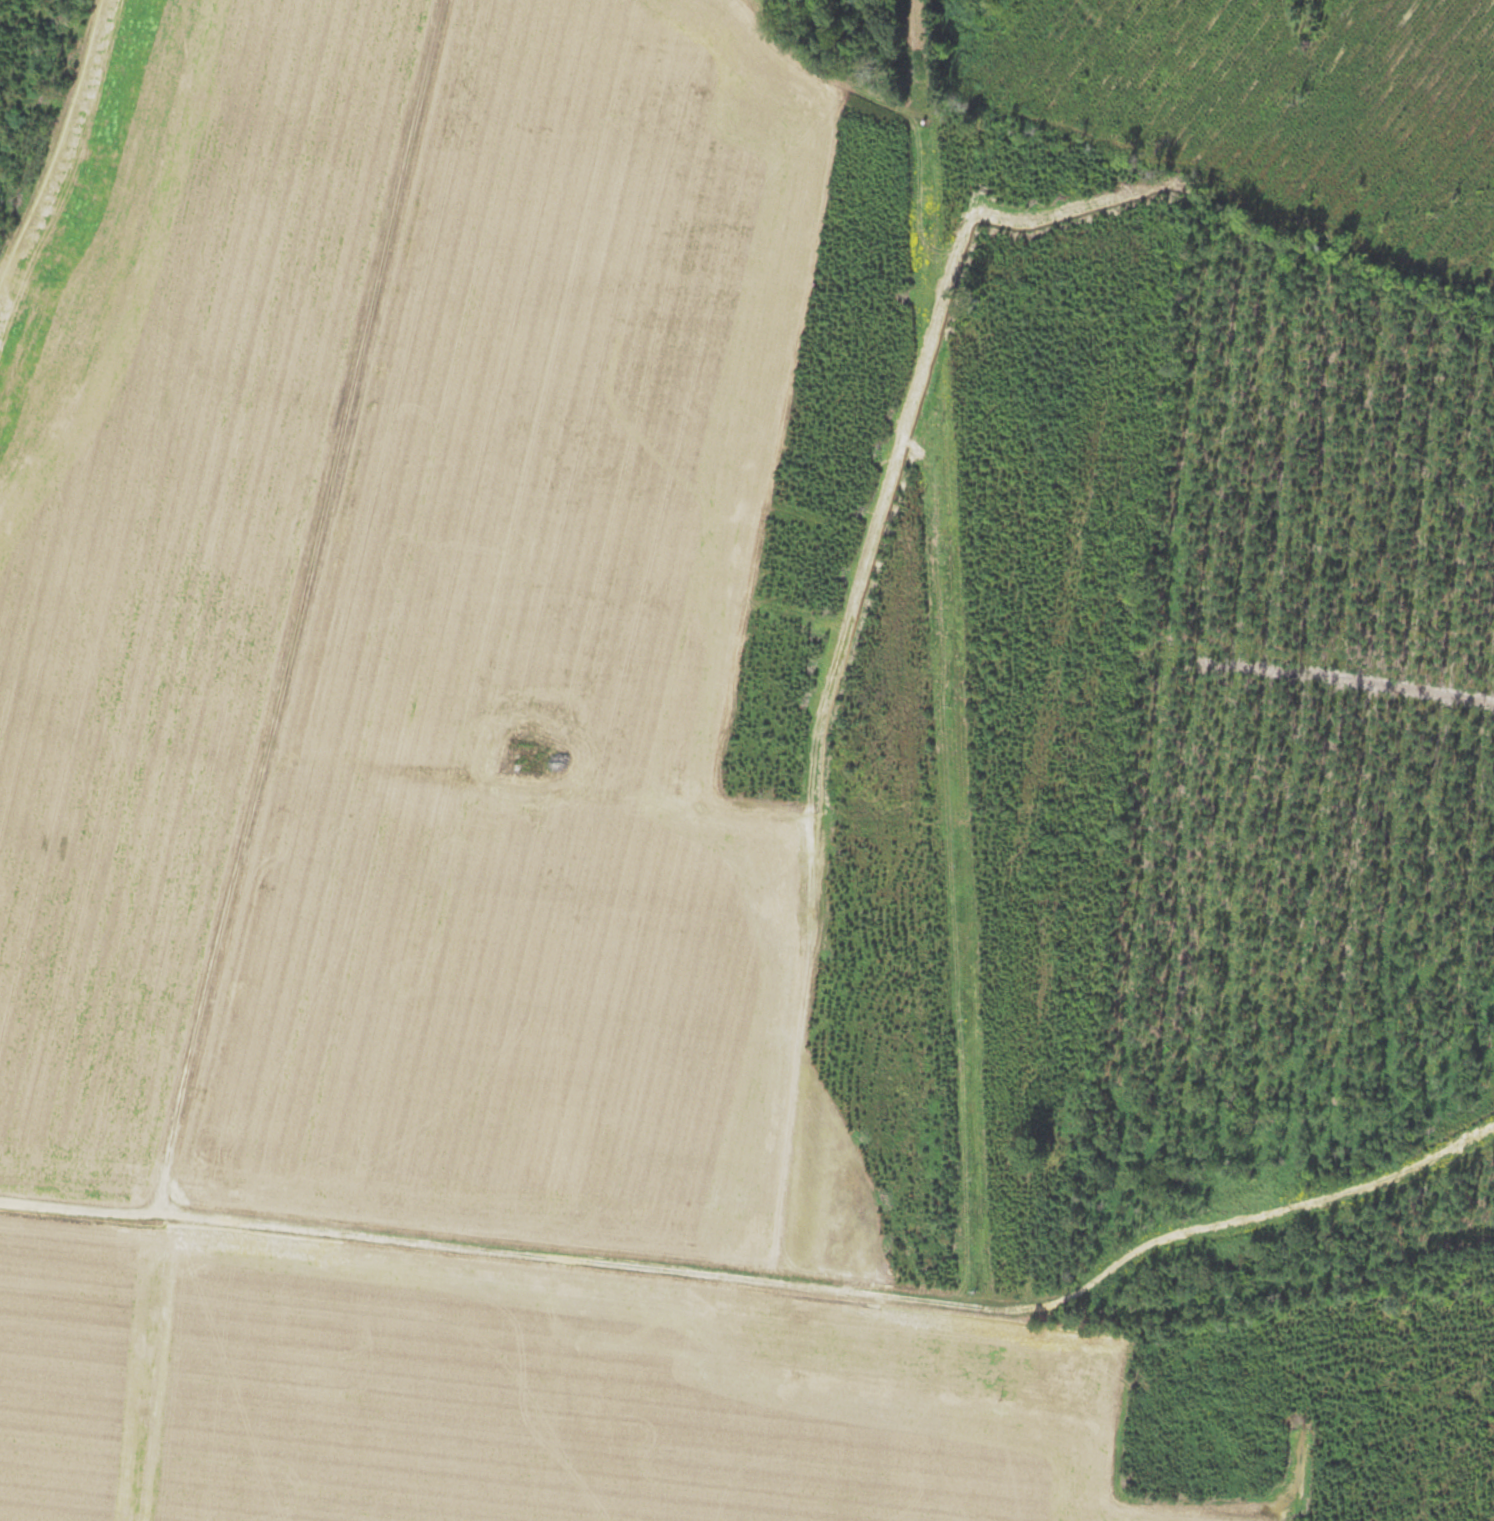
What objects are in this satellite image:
road: (21, 1202)

